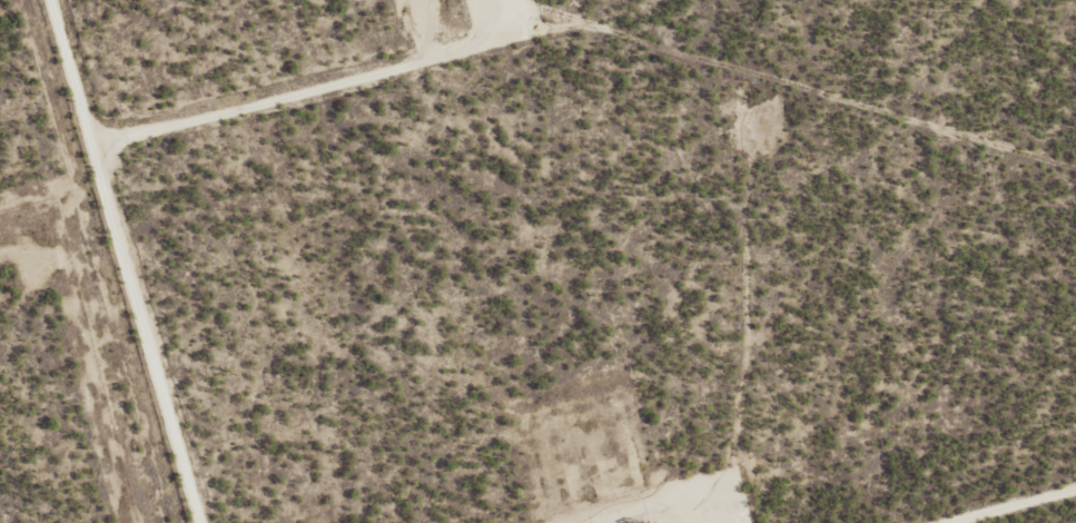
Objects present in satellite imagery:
road: (314, 91)
road: (125, 261)
road: (1011, 506)

